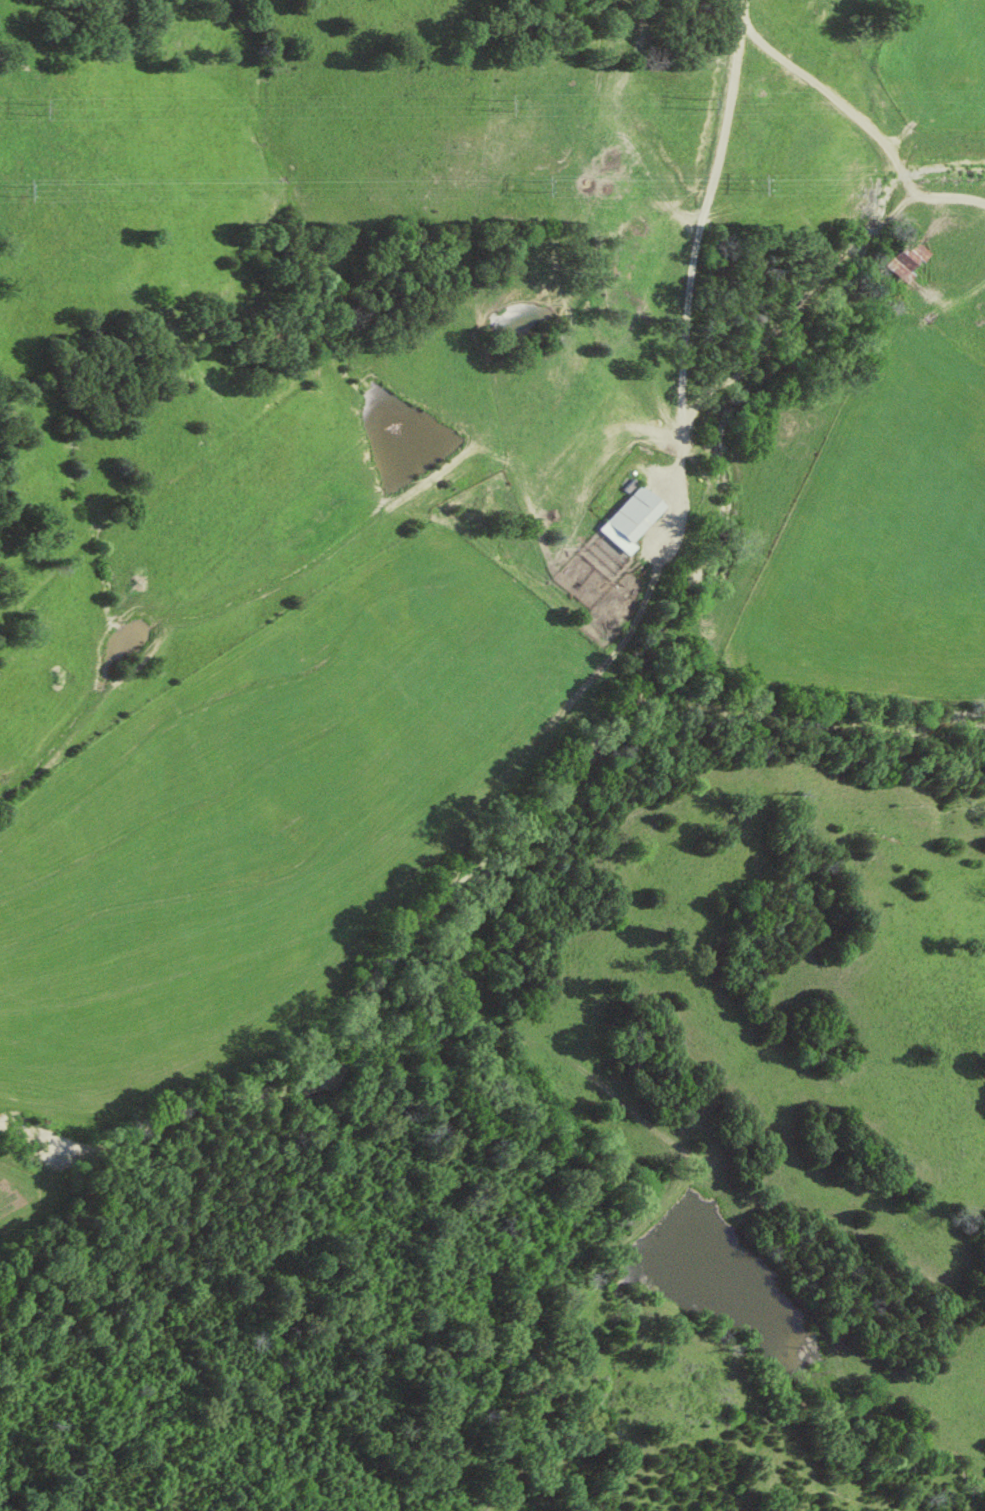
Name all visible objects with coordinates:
road: (698, 259)
building: (901, 259)
building: (631, 514)

